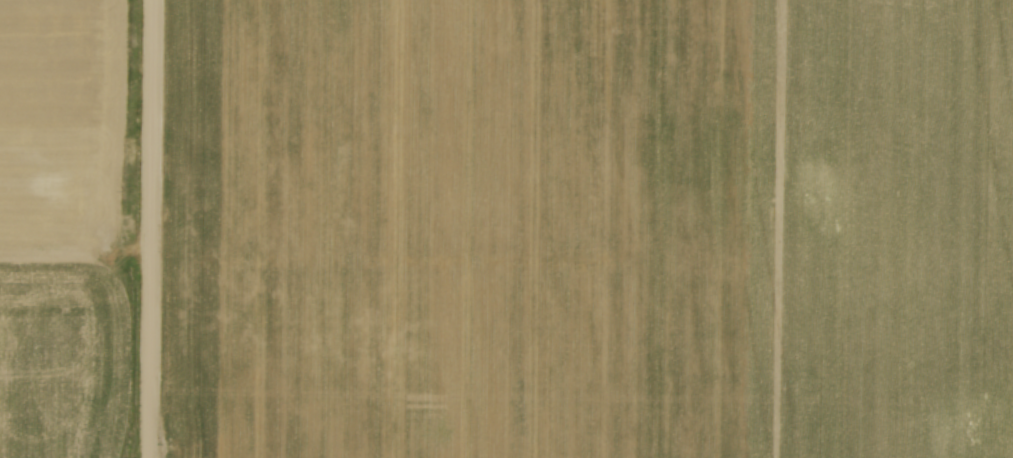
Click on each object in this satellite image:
crop: (61, 228)
road: (150, 229)
crop: (588, 229)

